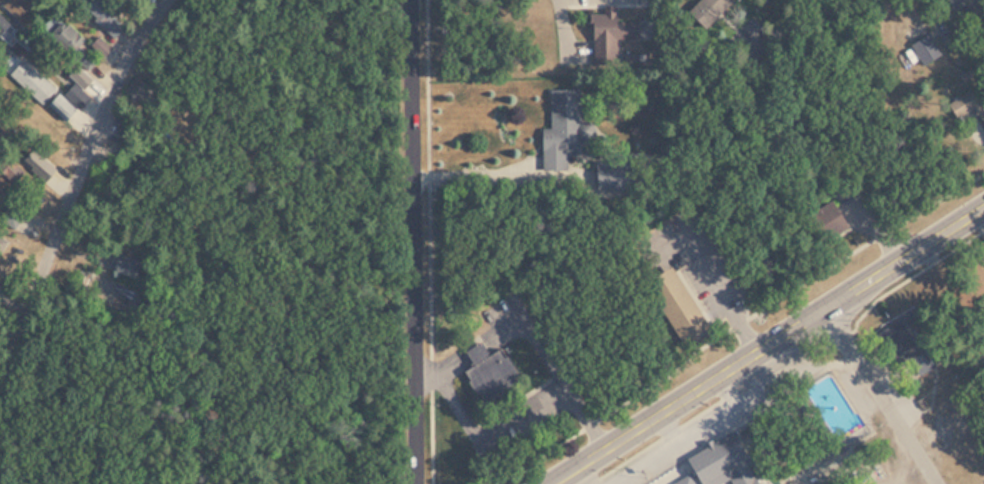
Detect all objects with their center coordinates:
building: (16, 6)
building: (707, 10)
building: (102, 15)
road: (787, 18)
building: (3, 23)
building: (610, 27)
building: (77, 44)
building: (923, 48)
road: (569, 49)
building: (47, 89)
building: (978, 109)
building: (560, 129)
building: (611, 173)
road: (474, 177)
road: (429, 178)
road: (76, 193)
building: (829, 222)
road: (415, 242)
building: (2, 243)
road: (866, 244)
building: (128, 265)
road: (716, 286)
building: (672, 303)
road: (765, 343)
building: (910, 343)
road: (471, 349)
road: (441, 367)
building: (487, 371)
road: (671, 374)
road: (570, 388)
road: (882, 396)
road: (518, 399)
road: (503, 401)
road: (585, 419)
road: (432, 437)
building: (750, 446)
road: (543, 454)
building: (730, 457)

